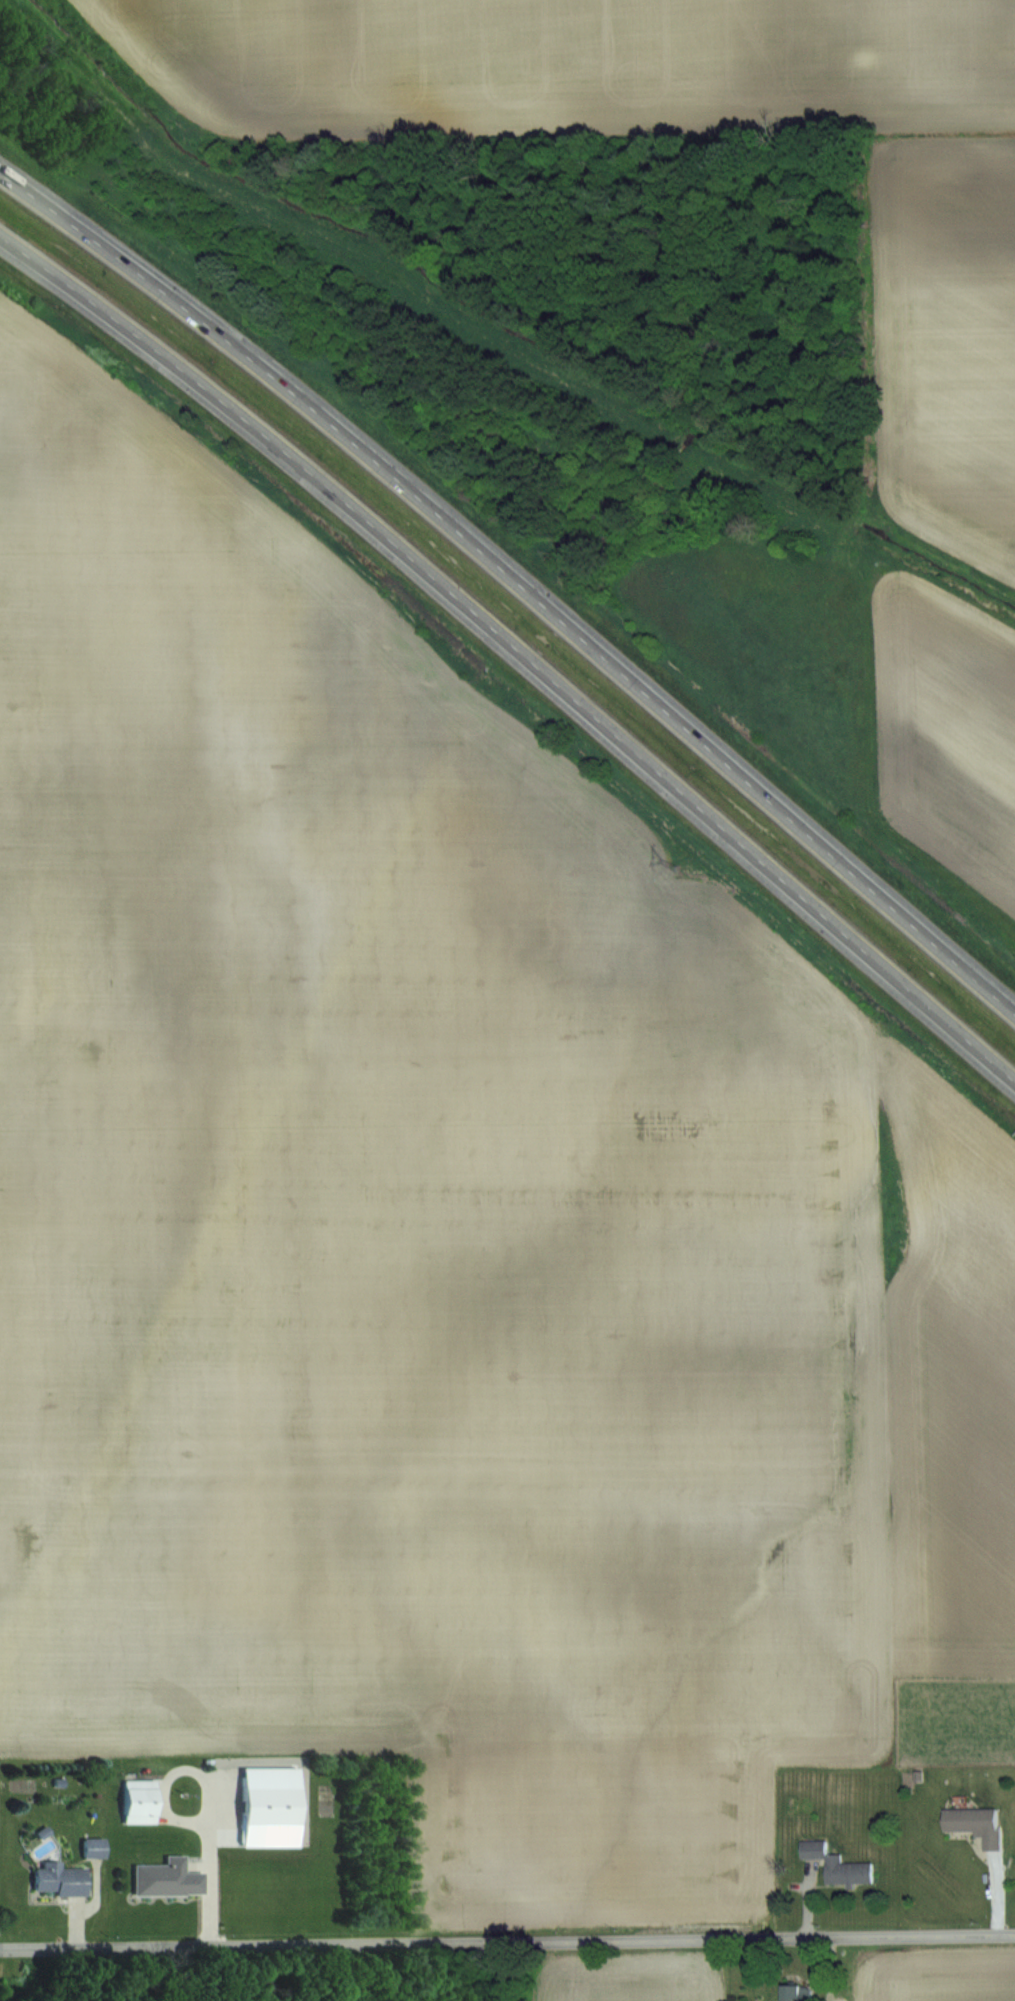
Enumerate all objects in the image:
road: (516, 582)
road: (515, 648)
building: (258, 1791)
building: (137, 1802)
building: (975, 1824)
building: (92, 1848)
building: (836, 1863)
building: (164, 1879)
building: (57, 1880)
road: (513, 1942)
road: (6, 1949)
building: (794, 1992)

